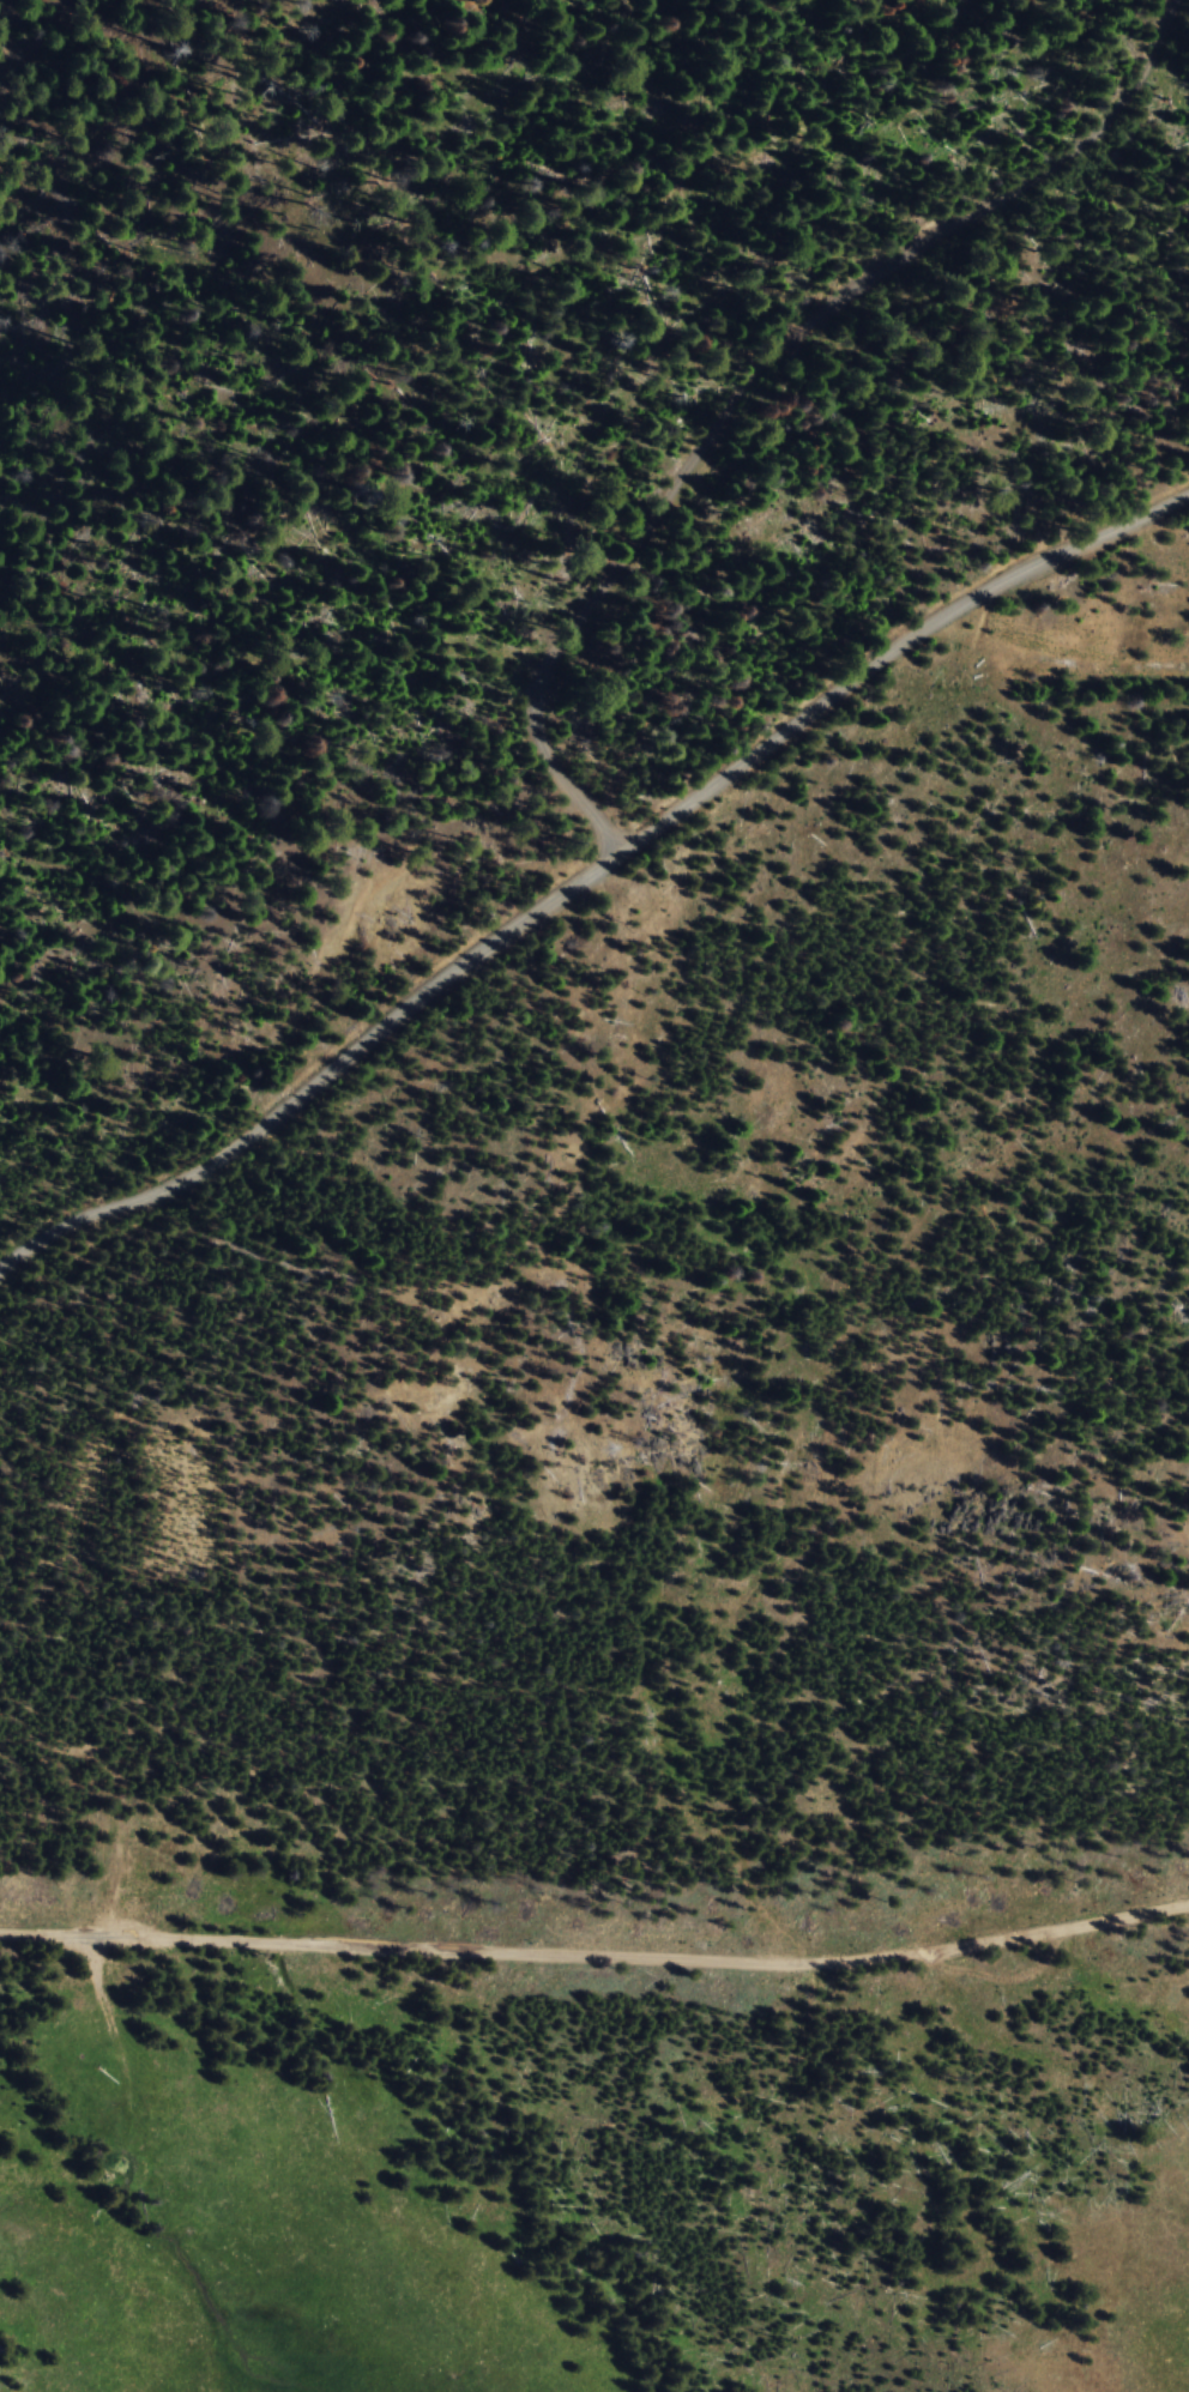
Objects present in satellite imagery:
road: (759, 366)
road: (580, 877)
road: (596, 1953)
road: (98, 1963)

